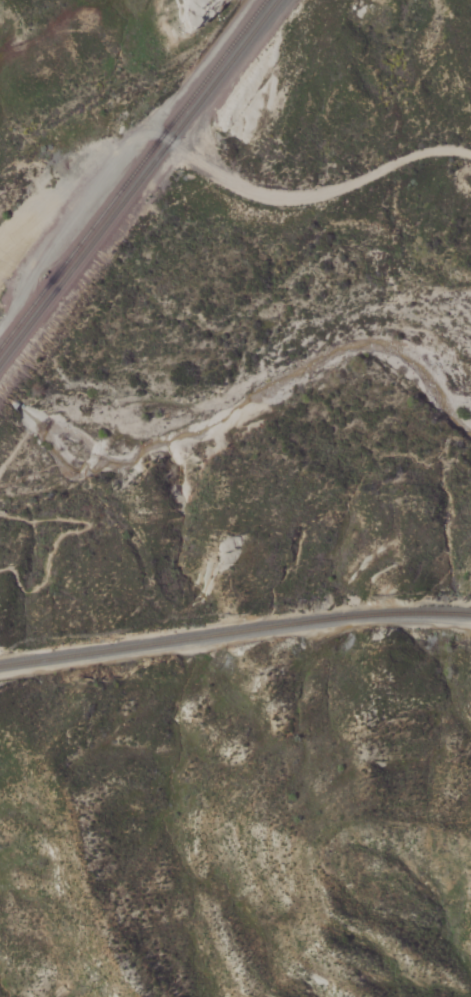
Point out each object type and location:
road: (233, 72)
railway: (170, 125)
railway: (180, 127)
road: (214, 168)
road: (72, 222)
railway: (37, 299)
railway: (41, 308)
road: (22, 439)
road: (69, 534)
railway: (234, 632)
road: (234, 640)

